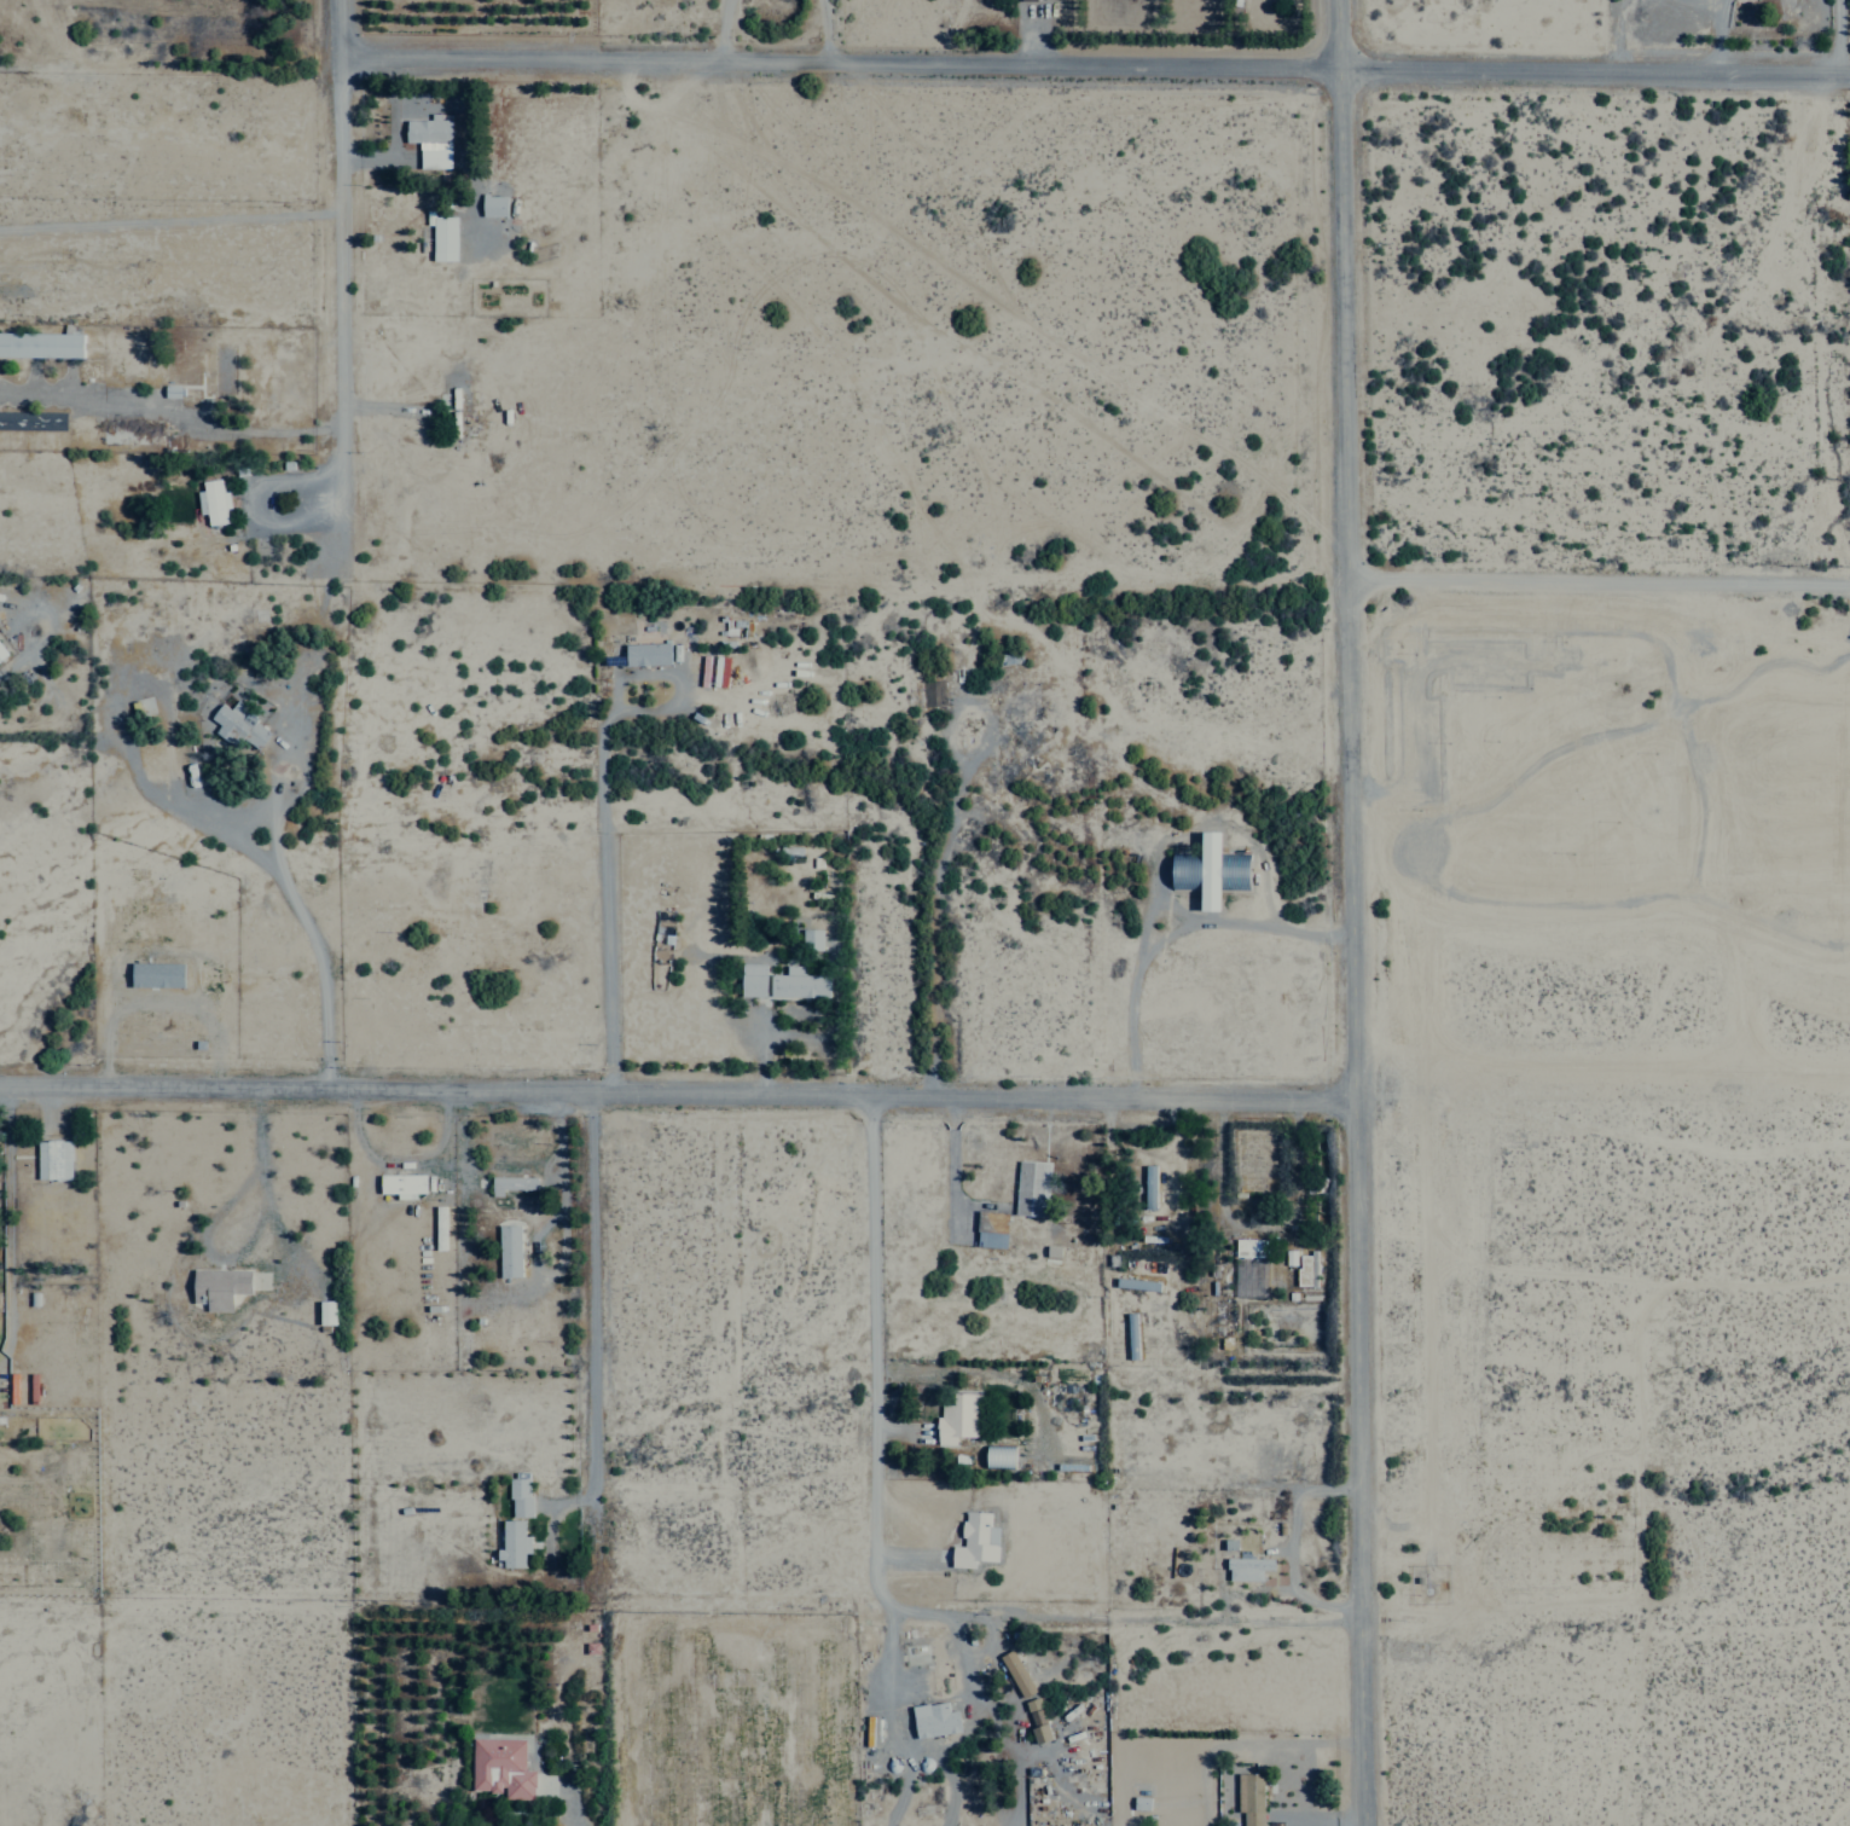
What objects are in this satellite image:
road: (343, 24)
road: (1096, 68)
building: (429, 140)
building: (492, 205)
building: (441, 238)
road: (344, 306)
building: (40, 344)
building: (31, 421)
building: (210, 502)
road: (1600, 578)
building: (1, 653)
building: (645, 654)
building: (237, 726)
building: (1213, 871)
road: (1350, 912)
building: (810, 939)
building: (155, 975)
building: (750, 979)
building: (796, 984)
road: (677, 1089)
building: (52, 1160)
building: (510, 1184)
building: (400, 1186)
building: (1147, 1187)
building: (1030, 1188)
park: (1631, 1218)
building: (991, 1229)
building: (1248, 1247)
building: (506, 1251)
building: (1305, 1269)
building: (1135, 1283)
building: (216, 1287)
building: (324, 1312)
road: (597, 1324)
road: (877, 1352)
building: (957, 1419)
building: (997, 1456)
building: (517, 1499)
building: (974, 1542)
building: (511, 1544)
building: (1246, 1569)
building: (1014, 1674)
building: (932, 1718)
building: (1036, 1720)
building: (499, 1767)
building: (1249, 1798)
building: (1139, 1802)

